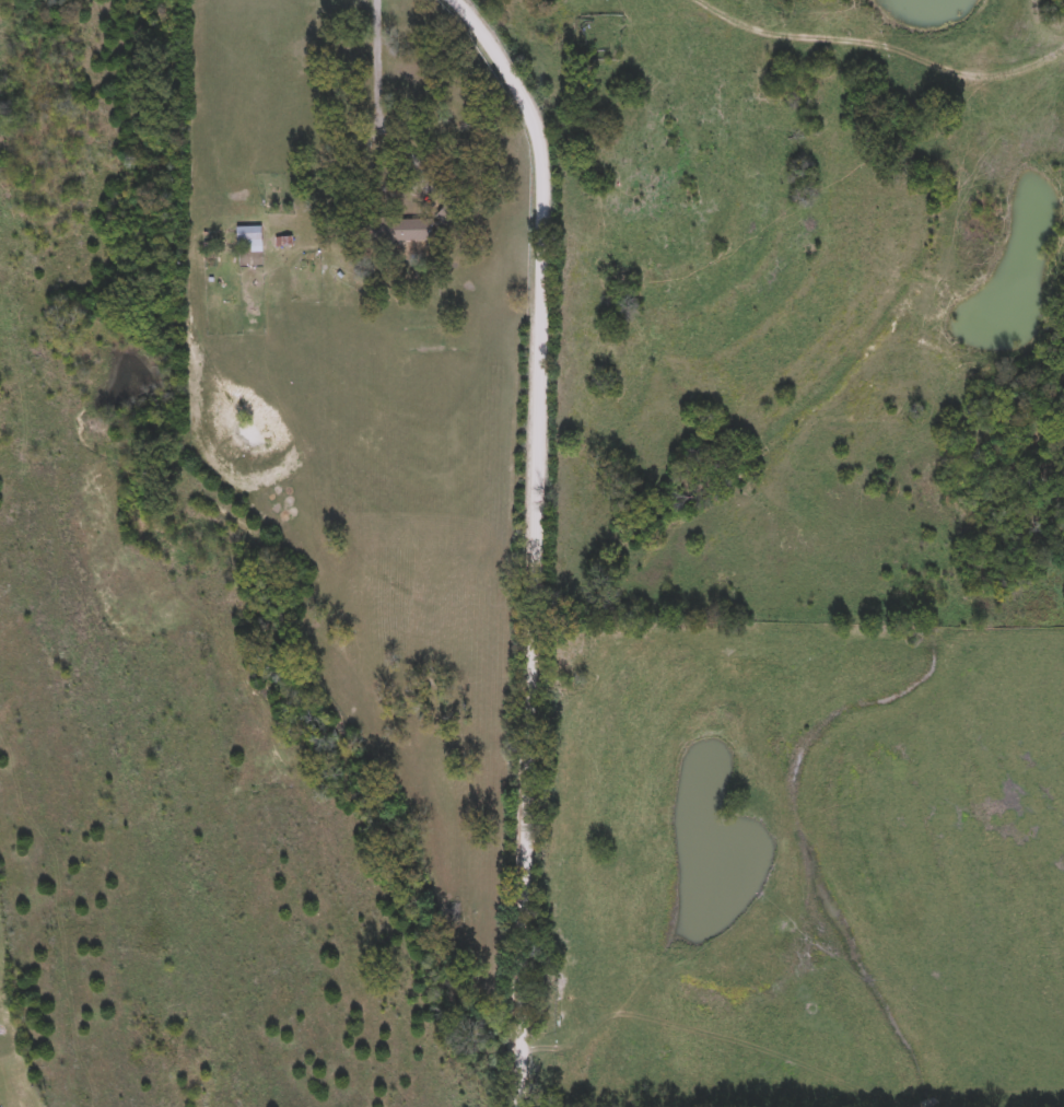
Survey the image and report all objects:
road: (378, 60)
road: (397, 193)
building: (405, 231)
building: (249, 237)
road: (535, 540)

